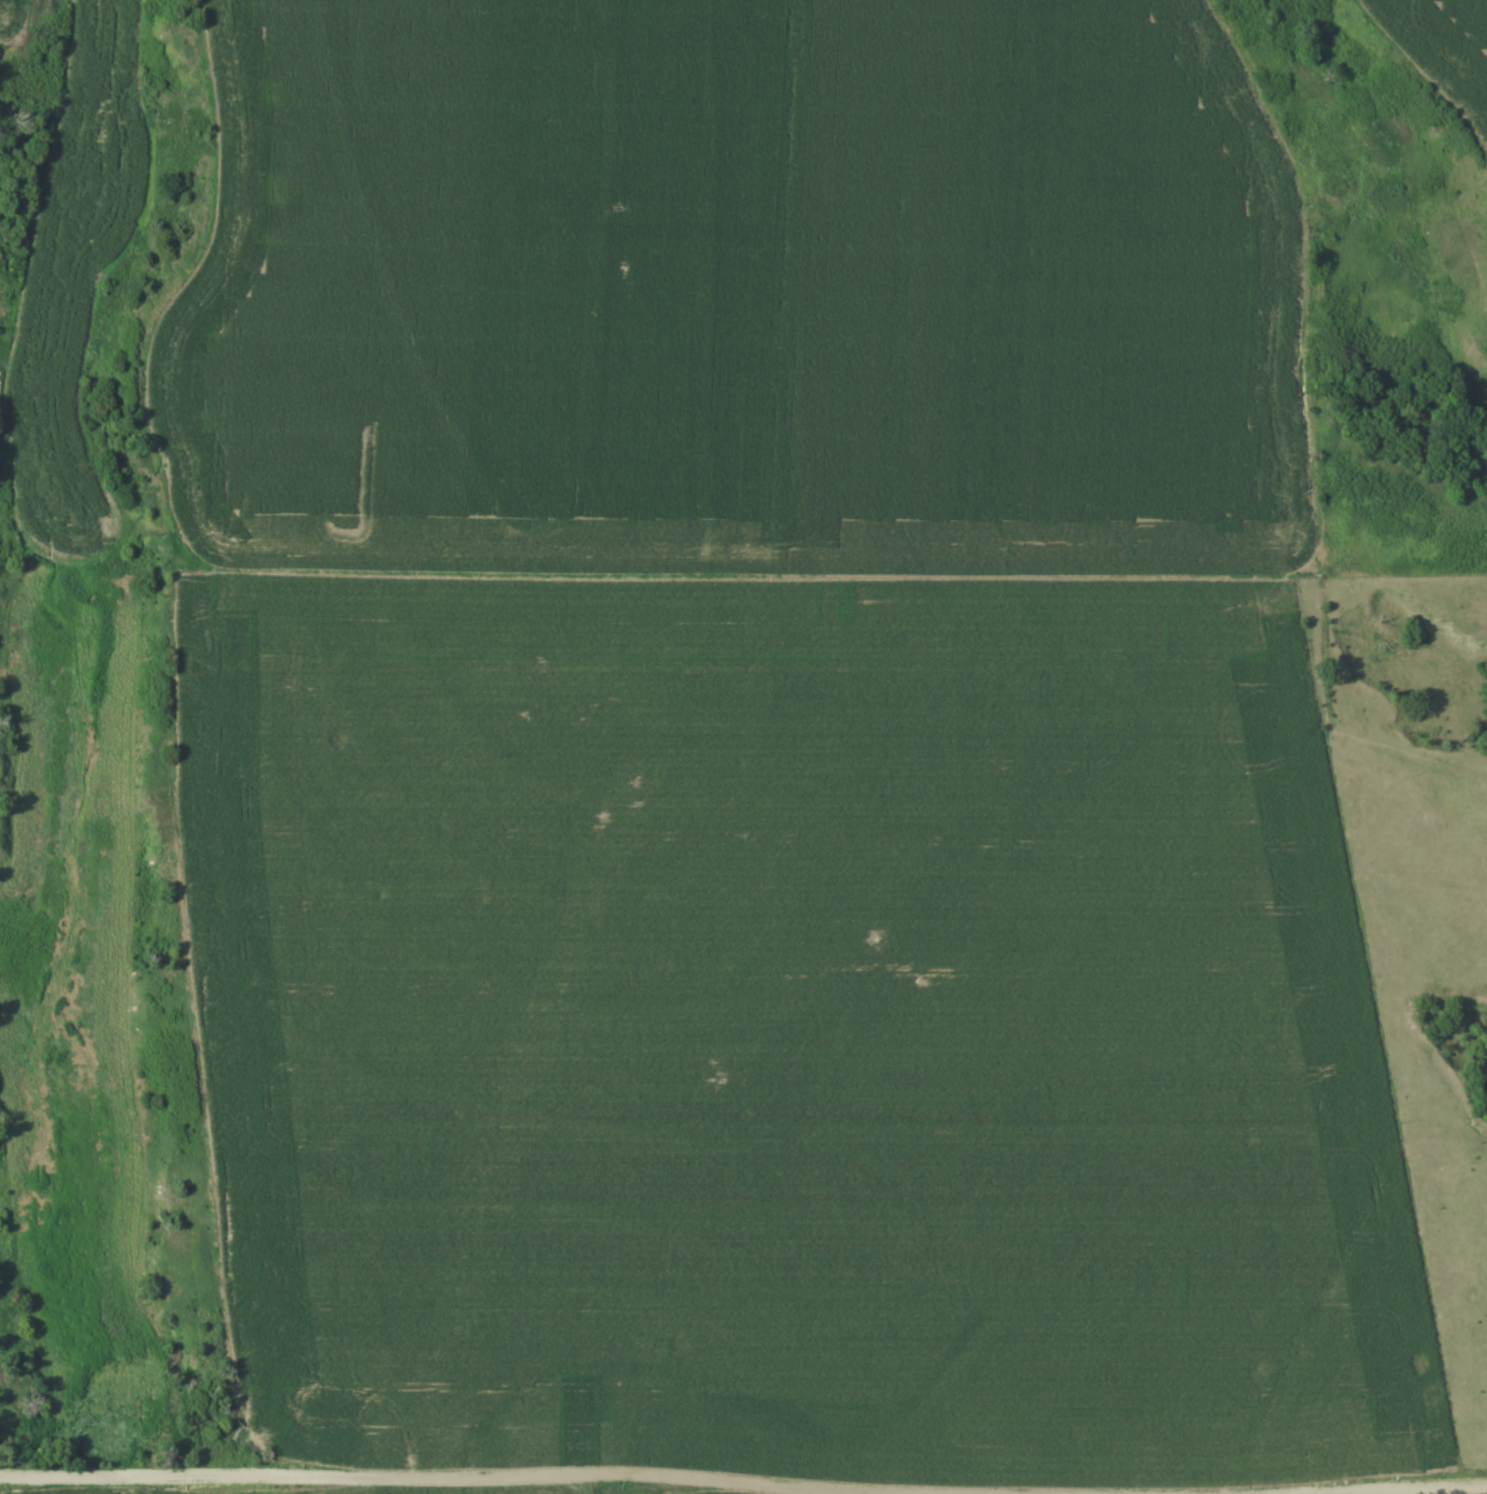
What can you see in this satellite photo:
road: (400, 1480)

